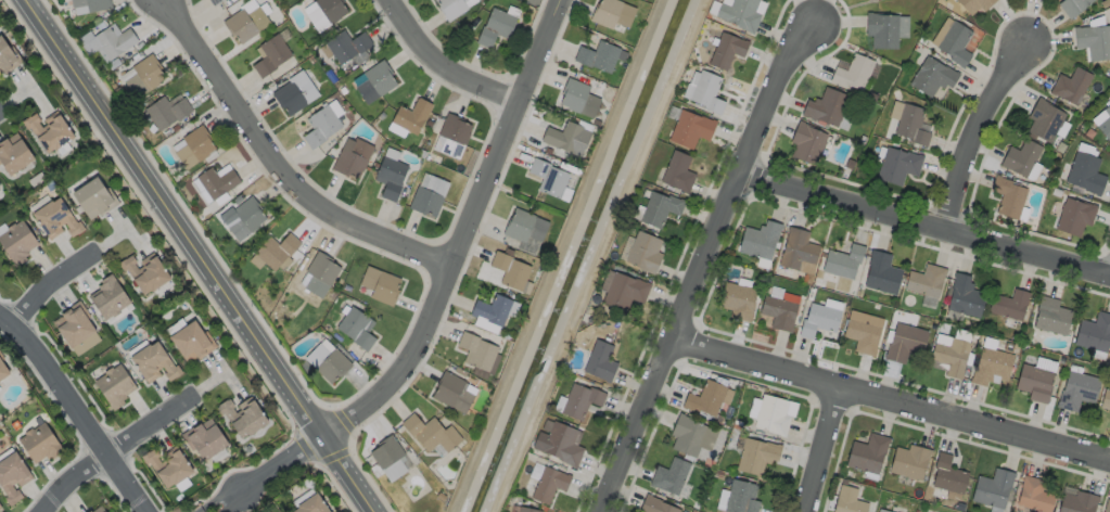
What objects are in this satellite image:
building: (213, 2)
building: (90, 4)
building: (972, 4)
building: (1071, 7)
building: (451, 8)
building: (323, 13)
building: (610, 13)
building: (738, 14)
building: (244, 24)
building: (494, 27)
building: (880, 30)
building: (1093, 39)
building: (113, 40)
building: (955, 43)
building: (345, 47)
building: (725, 50)
building: (4, 54)
building: (270, 55)
building: (596, 56)
road: (443, 65)
building: (852, 74)
building: (142, 76)
building: (932, 76)
building: (373, 82)
building: (1070, 86)
building: (702, 92)
building: (293, 93)
building: (576, 98)
building: (826, 108)
building: (165, 111)
building: (410, 116)
building: (1043, 120)
building: (1105, 124)
building: (910, 125)
building: (319, 127)
building: (52, 130)
building: (689, 130)
road: (969, 135)
building: (451, 136)
building: (565, 138)
building: (805, 144)
building: (192, 146)
building: (15, 153)
building: (350, 157)
building: (1020, 158)
road: (280, 163)
building: (897, 166)
building: (676, 174)
building: (1084, 174)
building: (388, 178)
building: (547, 178)
building: (215, 181)
building: (0, 185)
building: (426, 195)
building: (93, 197)
building: (1007, 197)
building: (658, 210)
building: (55, 217)
building: (1073, 217)
building: (243, 218)
road: (923, 226)
building: (524, 227)
road: (459, 231)
building: (17, 240)
building: (760, 240)
building: (796, 249)
building: (275, 251)
building: (642, 253)
road: (202, 255)
road: (700, 260)
building: (842, 260)
building: (510, 271)
building: (146, 272)
building: (881, 272)
building: (318, 274)
building: (924, 280)
building: (379, 285)
road: (48, 286)
building: (623, 291)
building: (964, 296)
building: (109, 298)
building: (736, 300)
building: (1009, 305)
building: (490, 310)
building: (777, 312)
building: (1050, 317)
building: (817, 320)
building: (74, 325)
building: (355, 328)
building: (1093, 332)
building: (860, 336)
building: (192, 341)
building: (904, 343)
building: (476, 351)
building: (950, 357)
building: (152, 360)
building: (598, 361)
building: (326, 362)
building: (990, 367)
building: (3, 369)
building: (1033, 383)
building: (117, 385)
building: (1076, 391)
building: (451, 393)
building: (704, 397)
road: (889, 399)
building: (578, 400)
building: (1105, 400)
road: (78, 413)
building: (770, 413)
building: (244, 415)
building: (430, 434)
building: (686, 434)
building: (206, 438)
building: (38, 444)
building: (557, 444)
road: (824, 449)
road: (112, 452)
building: (385, 452)
building: (866, 452)
building: (755, 455)
building: (908, 461)
building: (169, 464)
road: (273, 474)
building: (668, 474)
building: (947, 474)
building: (13, 477)
building: (547, 484)
building: (992, 487)
building: (1033, 494)
building: (740, 497)
building: (847, 500)
building: (1076, 501)
building: (311, 504)
building: (654, 504)
building: (1106, 504)
building: (0, 508)
building: (95, 510)
building: (524, 510)
building: (881, 510)
building: (86, 511)

